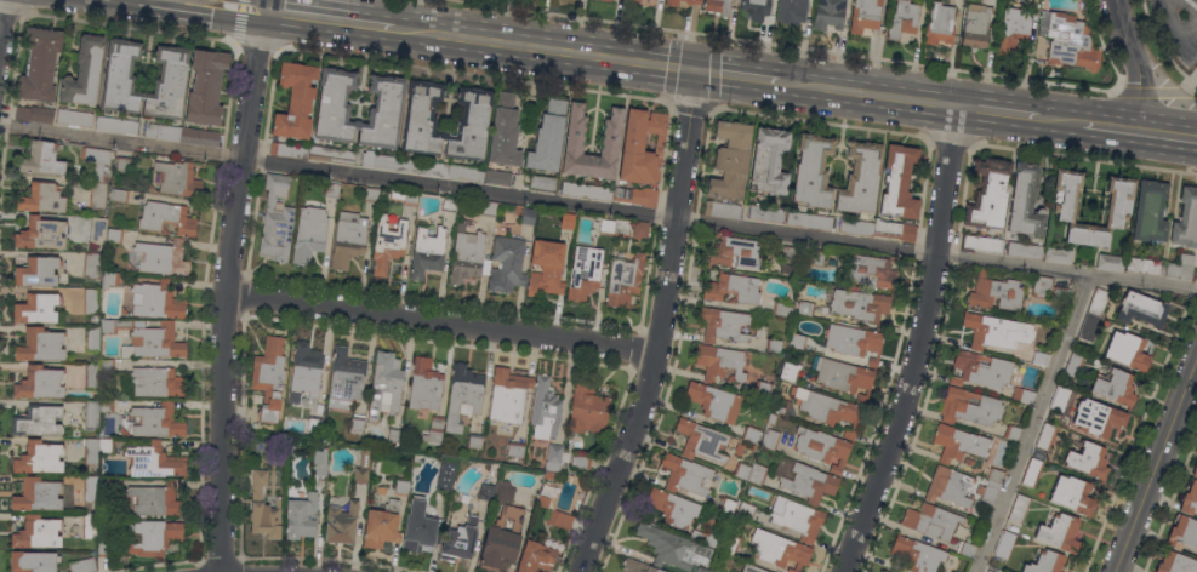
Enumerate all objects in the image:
road: (464, 0)
building: (606, 0)
building: (633, 0)
building: (692, 1)
building: (672, 2)
road: (224, 5)
road: (1187, 5)
building: (718, 6)
road: (0, 8)
building: (756, 8)
road: (11, 10)
building: (792, 11)
building: (828, 13)
building: (867, 16)
road: (238, 19)
road: (329, 19)
building: (902, 21)
building: (940, 23)
building: (976, 25)
road: (129, 27)
building: (1013, 29)
building: (1071, 41)
road: (256, 44)
road: (1161, 44)
road: (542, 48)
road: (832, 52)
road: (1135, 63)
building: (39, 64)
traffic signals: (692, 69)
building: (84, 71)
road: (472, 73)
road: (736, 74)
building: (120, 78)
road: (1189, 82)
building: (170, 85)
building: (206, 87)
road: (1148, 91)
road: (867, 93)
building: (295, 101)
building: (335, 107)
road: (689, 107)
road: (997, 110)
building: (383, 113)
building: (34, 114)
building: (74, 118)
building: (422, 118)
road: (1059, 119)
road: (819, 121)
building: (471, 124)
building: (116, 125)
road: (1138, 130)
building: (163, 131)
building: (505, 131)
building: (610, 136)
building: (199, 137)
building: (547, 137)
road: (950, 139)
building: (642, 145)
building: (287, 149)
building: (331, 154)
building: (42, 158)
road: (1084, 158)
building: (730, 159)
building: (97, 161)
building: (378, 161)
building: (769, 161)
building: (122, 164)
building: (439, 168)
building: (811, 171)
building: (497, 177)
building: (860, 177)
building: (178, 178)
building: (899, 182)
building: (543, 183)
building: (150, 188)
building: (331, 189)
building: (586, 190)
building: (97, 194)
building: (371, 194)
building: (988, 194)
building: (119, 195)
building: (637, 195)
building: (405, 196)
building: (41, 198)
building: (1025, 201)
building: (449, 204)
building: (1070, 204)
road: (598, 206)
building: (489, 208)
building: (1113, 208)
building: (722, 210)
building: (1150, 211)
building: (766, 212)
building: (528, 216)
building: (166, 218)
building: (277, 219)
building: (809, 219)
building: (1186, 219)
building: (568, 221)
building: (615, 227)
building: (856, 227)
building: (640, 229)
building: (896, 229)
building: (40, 234)
building: (97, 234)
building: (309, 234)
building: (114, 235)
building: (1085, 236)
building: (348, 239)
building: (980, 242)
building: (387, 244)
building: (428, 250)
building: (1025, 250)
building: (734, 252)
building: (466, 253)
building: (788, 253)
building: (1058, 254)
building: (160, 257)
building: (817, 257)
building: (1111, 262)
building: (507, 263)
building: (1144, 264)
building: (91, 265)
building: (129, 267)
building: (1181, 267)
building: (546, 268)
building: (36, 270)
building: (870, 270)
building: (583, 271)
building: (109, 279)
building: (623, 280)
building: (1041, 286)
building: (734, 288)
road: (226, 290)
building: (994, 293)
building: (1059, 293)
building: (156, 301)
building: (91, 302)
building: (1098, 302)
building: (862, 305)
building: (38, 308)
building: (805, 308)
building: (783, 309)
building: (1141, 309)
building: (122, 310)
road: (441, 322)
building: (723, 325)
road: (660, 326)
building: (1089, 326)
building: (1002, 333)
building: (92, 338)
building: (147, 338)
building: (797, 339)
building: (854, 342)
road: (916, 343)
building: (40, 344)
building: (774, 345)
building: (1128, 350)
building: (720, 362)
building: (1073, 362)
building: (107, 366)
building: (981, 370)
building: (790, 371)
building: (304, 372)
building: (92, 376)
building: (269, 377)
building: (844, 377)
building: (346, 379)
building: (156, 382)
building: (39, 383)
building: (384, 383)
building: (424, 384)
building: (1115, 385)
building: (763, 389)
building: (508, 395)
building: (1022, 395)
building: (463, 396)
building: (1059, 397)
building: (714, 401)
building: (107, 406)
building: (970, 406)
building: (545, 408)
building: (587, 408)
building: (828, 410)
building: (775, 412)
building: (92, 413)
building: (1098, 418)
building: (38, 421)
building: (156, 421)
building: (314, 423)
road: (1034, 423)
building: (357, 424)
building: (434, 430)
building: (124, 431)
building: (1011, 431)
building: (751, 433)
building: (394, 435)
building: (1044, 435)
building: (770, 439)
building: (702, 440)
building: (475, 441)
building: (958, 442)
building: (110, 445)
building: (822, 447)
building: (515, 448)
building: (739, 448)
building: (91, 451)
building: (39, 457)
building: (553, 457)
building: (1088, 459)
building: (154, 461)
building: (581, 461)
building: (969, 461)
building: (319, 462)
road: (1155, 463)
building: (363, 468)
building: (496, 468)
building: (742, 470)
building: (1195, 470)
building: (1032, 471)
building: (757, 474)
building: (445, 475)
building: (551, 475)
building: (686, 475)
building: (810, 482)
building: (950, 486)
building: (991, 486)
building: (395, 487)
building: (488, 488)
building: (505, 492)
building: (36, 494)
building: (1072, 494)
building: (154, 499)
building: (1190, 499)
building: (543, 501)
building: (728, 505)
building: (86, 507)
building: (677, 508)
building: (1019, 508)
building: (263, 509)
building: (745, 510)
building: (302, 516)
building: (796, 517)
building: (558, 519)
building: (931, 521)
building: (341, 524)
building: (382, 525)
building: (418, 526)
building: (36, 532)
building: (1060, 532)
building: (1182, 532)
building: (154, 537)
building: (705, 537)
building: (458, 538)
building: (501, 539)
building: (104, 544)
building: (731, 544)
building: (1004, 544)
building: (673, 548)
building: (779, 549)
building: (967, 549)
building: (918, 554)
building: (536, 557)
building: (32, 561)
building: (1045, 562)
building: (1175, 562)
building: (82, 565)
building: (638, 566)
building: (751, 568)
building: (702, 570)
building: (883, 571)
building: (887, 571)
building: (988, 571)

